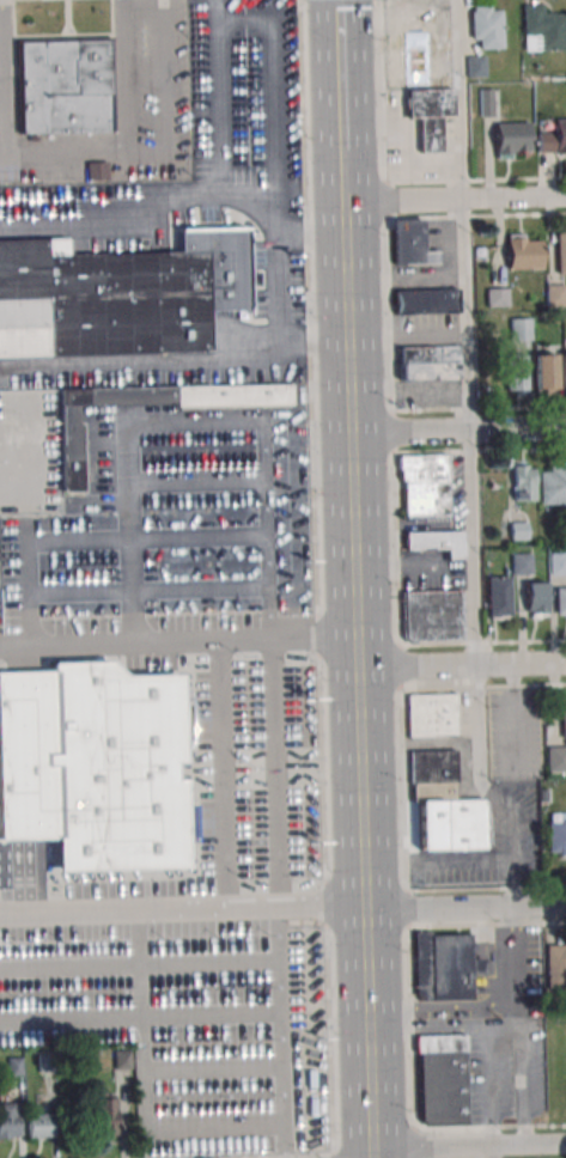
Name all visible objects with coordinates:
road: (0, 22)
building: (487, 28)
building: (542, 29)
road: (337, 36)
road: (1, 66)
parking lot: (151, 66)
building: (475, 66)
road: (4, 77)
road: (340, 83)
building: (428, 85)
building: (65, 89)
road: (219, 91)
road: (166, 95)
building: (485, 102)
building: (203, 110)
road: (2, 111)
road: (340, 122)
road: (126, 135)
building: (511, 138)
building: (553, 138)
road: (2, 154)
road: (474, 179)
road: (454, 200)
road: (474, 217)
road: (309, 230)
building: (410, 244)
building: (523, 251)
building: (561, 251)
building: (555, 294)
building: (118, 295)
building: (497, 295)
building: (426, 300)
building: (519, 329)
road: (312, 342)
parking lot: (172, 352)
road: (205, 361)
building: (430, 362)
building: (564, 372)
building: (543, 373)
building: (516, 374)
road: (477, 408)
road: (470, 412)
road: (191, 425)
road: (456, 428)
building: (72, 450)
road: (477, 450)
building: (523, 481)
building: (425, 483)
building: (552, 483)
building: (519, 530)
building: (437, 542)
road: (96, 544)
building: (521, 562)
building: (558, 562)
road: (395, 569)
road: (317, 579)
building: (499, 597)
building: (535, 599)
building: (560, 599)
building: (433, 615)
road: (177, 639)
road: (481, 641)
road: (355, 654)
road: (461, 666)
road: (482, 685)
building: (432, 714)
road: (513, 715)
building: (562, 723)
building: (556, 761)
building: (95, 770)
road: (275, 773)
road: (223, 774)
building: (449, 817)
building: (556, 837)
road: (512, 852)
road: (436, 857)
road: (486, 888)
road: (463, 904)
road: (179, 912)
road: (486, 924)
building: (555, 964)
road: (140, 967)
building: (444, 967)
road: (515, 967)
parking lot: (182, 1002)
road: (140, 1014)
road: (281, 1028)
road: (455, 1029)
road: (391, 1031)
building: (121, 1059)
building: (45, 1062)
building: (14, 1066)
road: (211, 1067)
building: (442, 1079)
road: (491, 1086)
road: (521, 1086)
building: (104, 1113)
building: (8, 1120)
building: (38, 1126)
road: (212, 1126)
road: (495, 1127)
road: (414, 1144)
road: (465, 1145)
road: (492, 1151)
road: (314, 1157)

